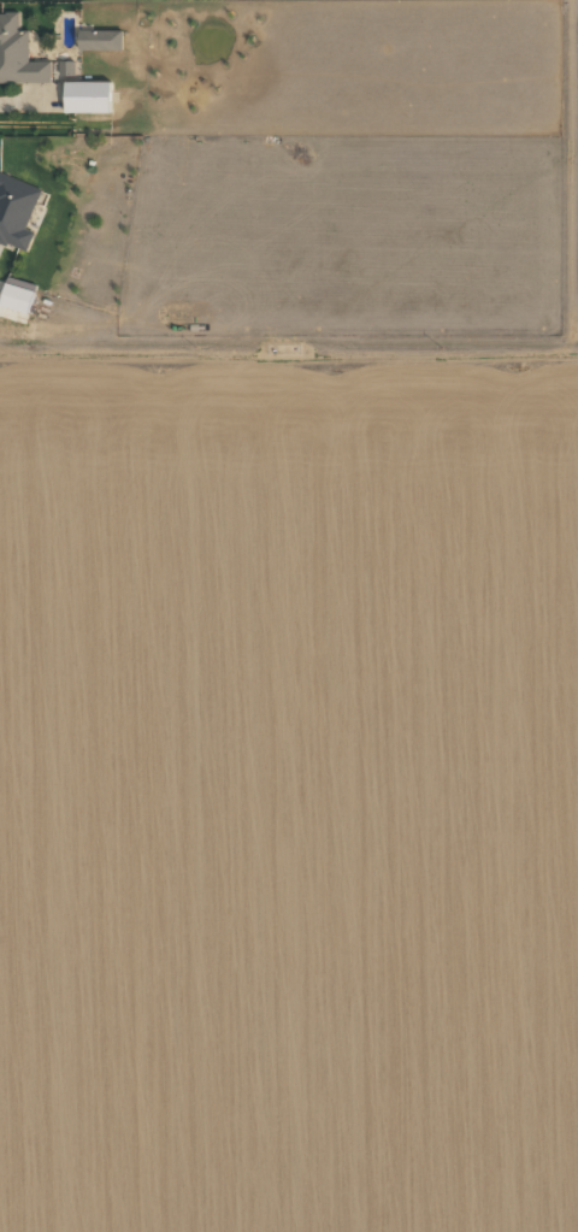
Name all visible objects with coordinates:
building: (100, 40)
building: (18, 54)
building: (66, 67)
building: (87, 96)
building: (16, 212)
building: (17, 294)
road: (289, 348)

